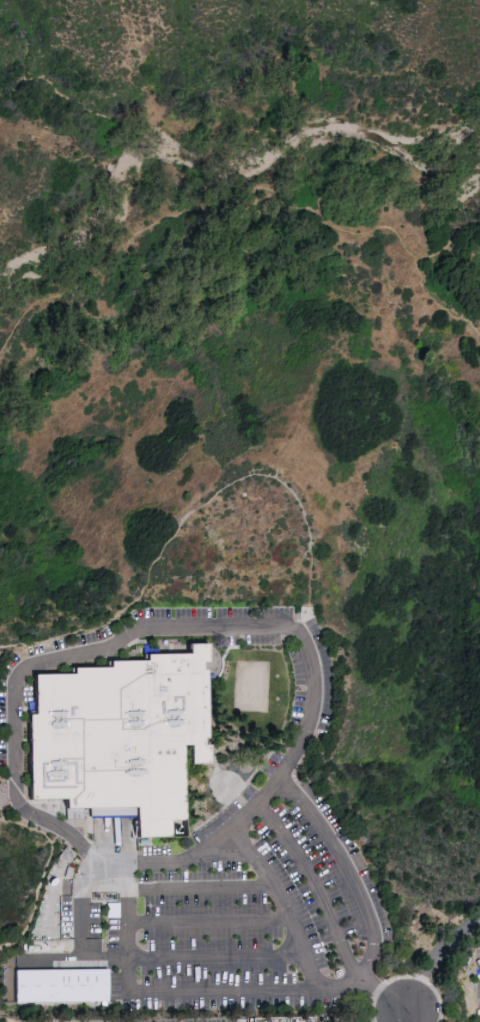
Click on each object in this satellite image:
road: (228, 200)
road: (435, 298)
road: (478, 330)
road: (301, 506)
parking lot: (211, 612)
road: (130, 633)
road: (70, 636)
parking lot: (252, 639)
road: (215, 677)
park: (251, 685)
parking lot: (299, 685)
parking lot: (324, 694)
road: (21, 702)
parking lot: (3, 710)
park: (241, 731)
building: (119, 738)
parking lot: (240, 801)
parking lot: (152, 850)
road: (229, 856)
road: (206, 857)
parking lot: (353, 858)
parking lot: (322, 866)
parking lot: (198, 874)
road: (43, 875)
road: (203, 888)
parking lot: (295, 892)
road: (324, 901)
road: (285, 903)
parking lot: (204, 904)
parking lot: (65, 914)
parking lot: (106, 917)
road: (211, 921)
parking lot: (212, 937)
parking lot: (51, 945)
road: (436, 957)
road: (55, 959)
parking lot: (214, 973)
road: (406, 976)
parking lot: (477, 983)
road: (129, 985)
building: (60, 988)
parking lot: (221, 1001)
road: (410, 1016)
parking lot: (143, 1020)

